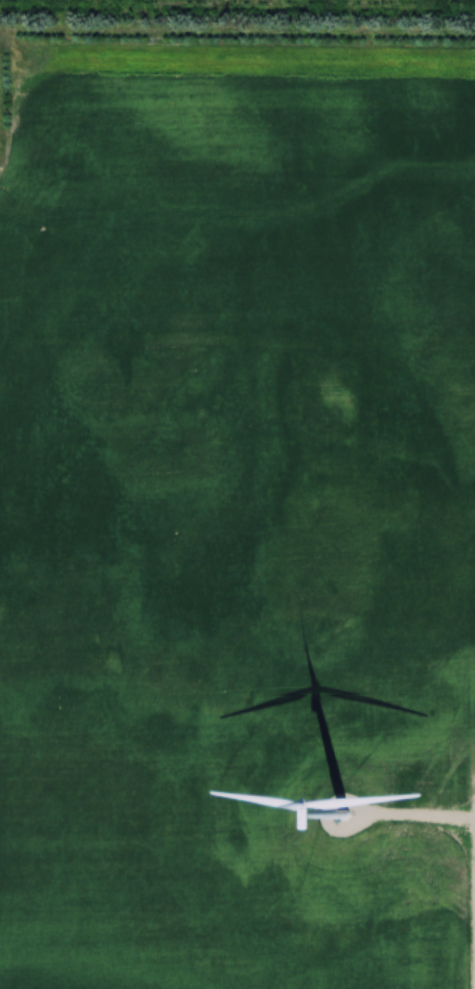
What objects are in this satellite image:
wind turbine: (340, 812)

